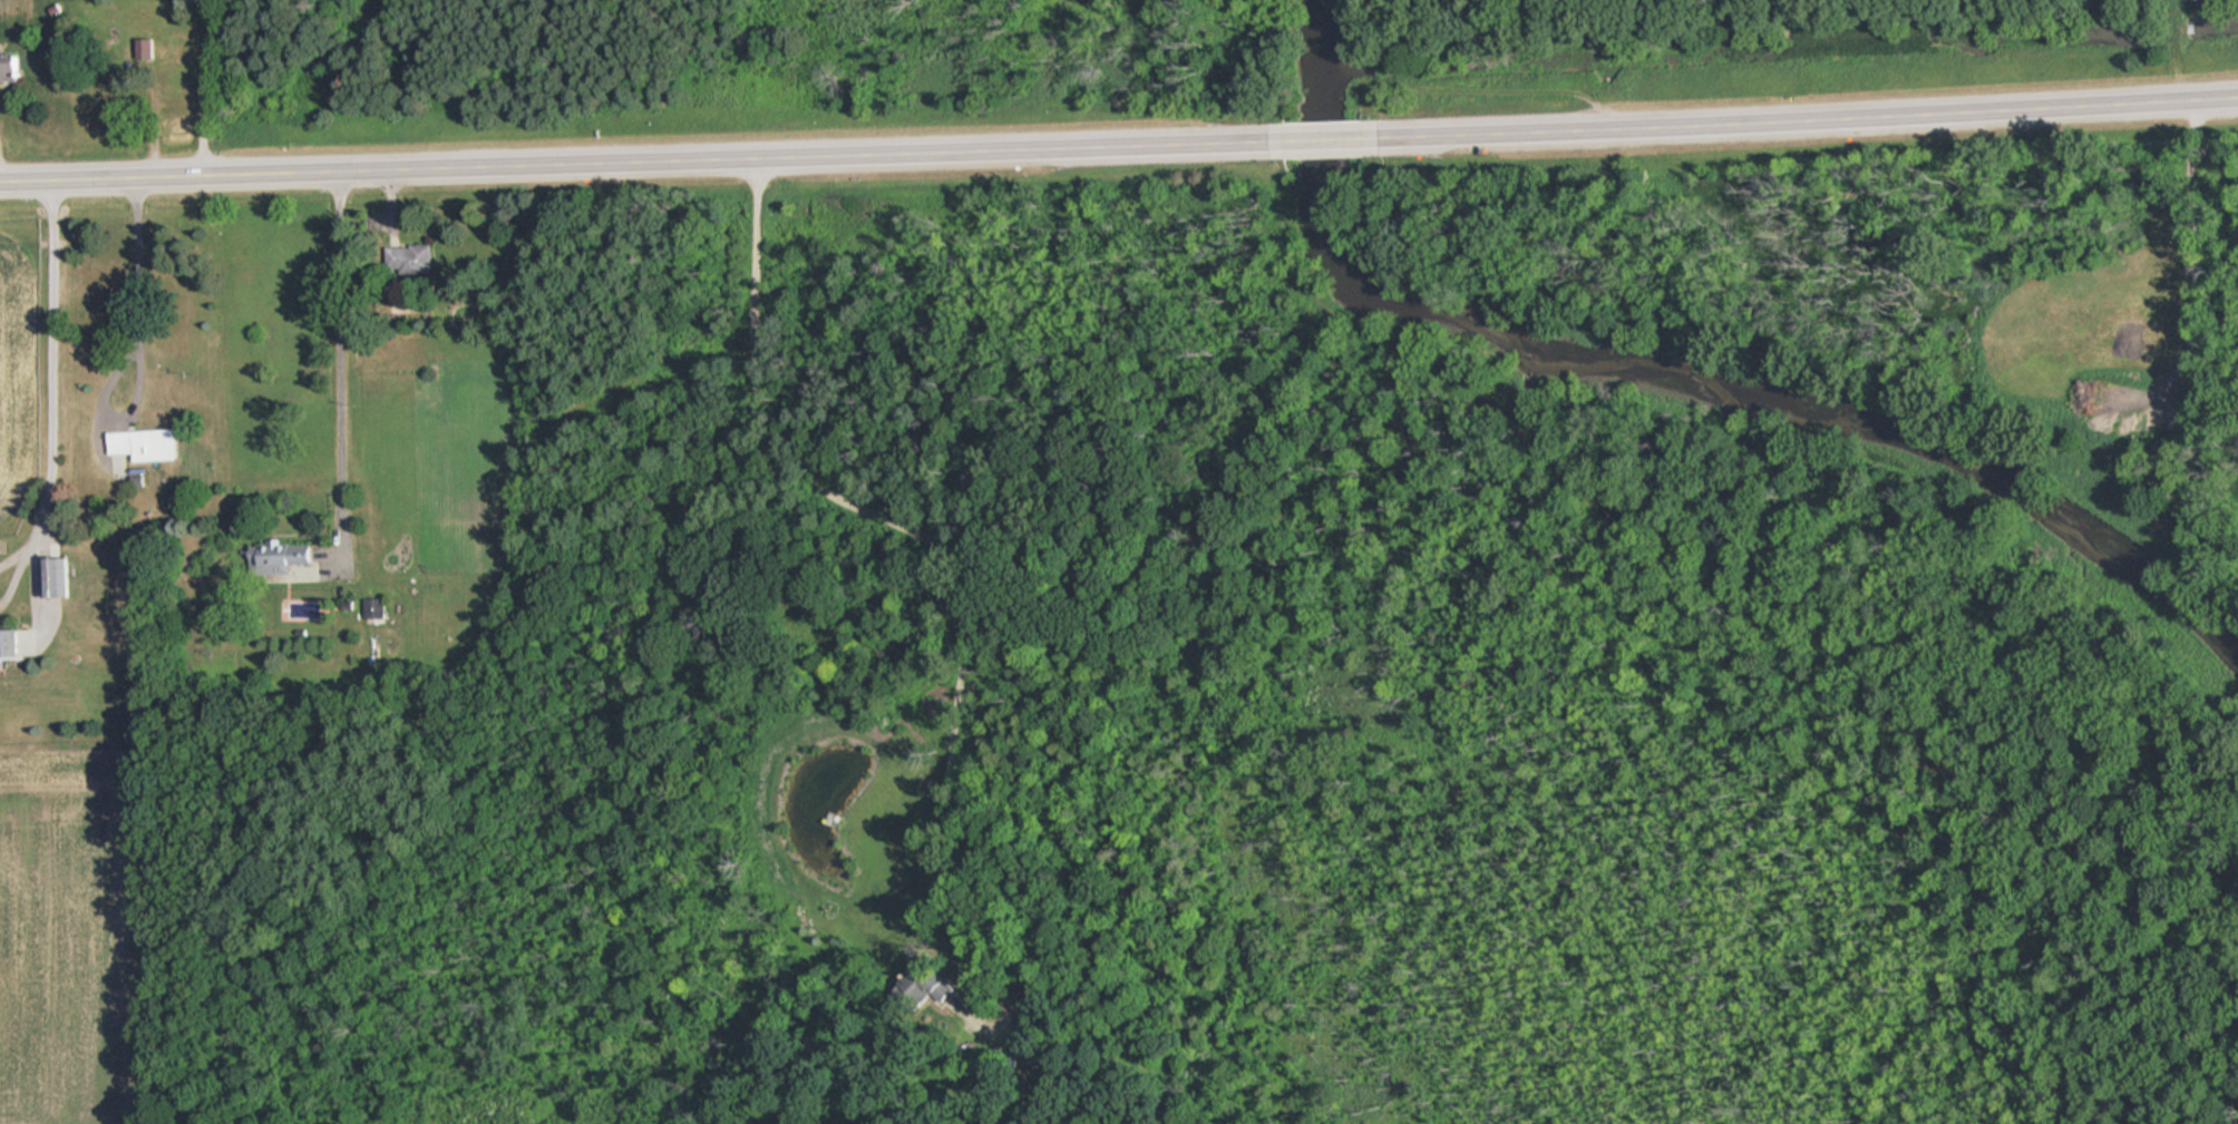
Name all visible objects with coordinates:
building: (0, 4)
building: (142, 46)
building: (11, 68)
building: (109, 94)
road: (1802, 116)
road: (1326, 138)
road: (642, 159)
building: (412, 258)
road: (339, 353)
river: (1673, 381)
building: (146, 444)
building: (282, 558)
building: (57, 578)
building: (377, 608)
building: (11, 645)

